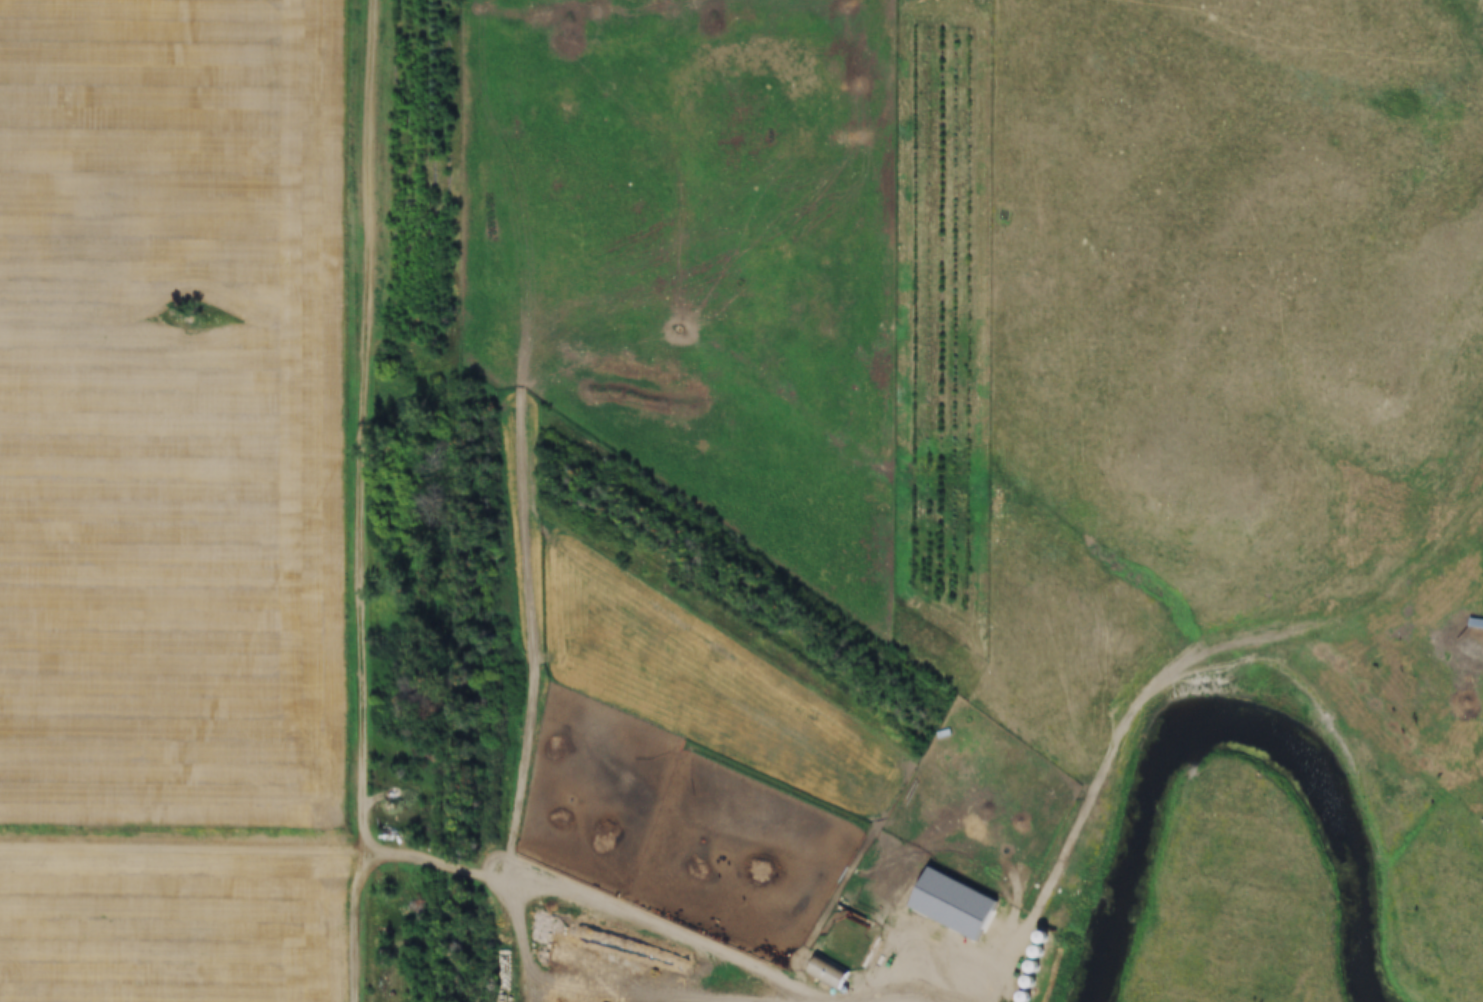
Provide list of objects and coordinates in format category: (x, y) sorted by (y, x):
road: (374, 424)
building: (1475, 623)
road: (1110, 755)
road: (669, 789)
building: (749, 869)
road: (531, 890)
road: (1002, 965)
building: (828, 972)
road: (682, 998)

